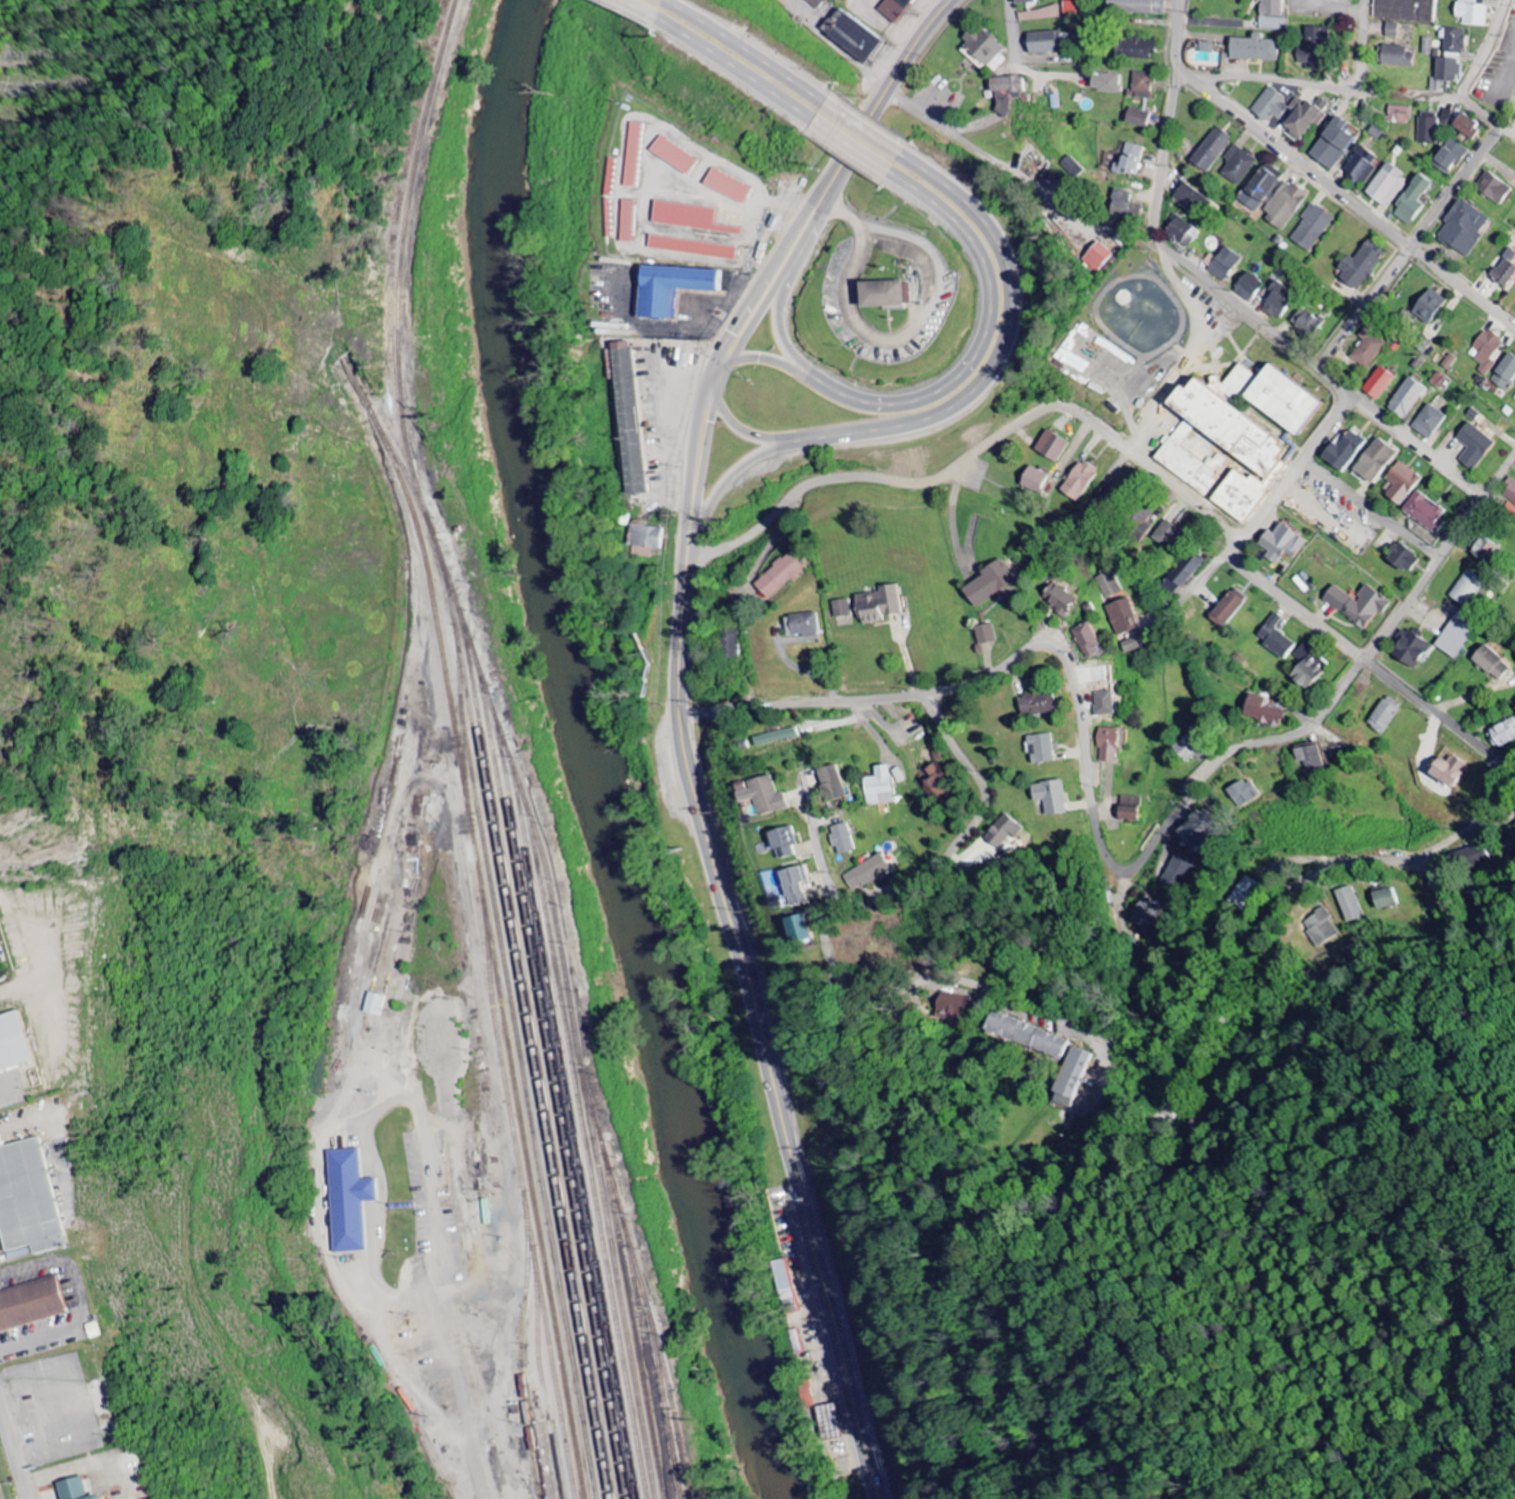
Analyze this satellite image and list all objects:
building: (1022, 1)
building: (815, 3)
building: (1136, 6)
road: (643, 8)
building: (894, 8)
building: (1406, 9)
building: (1472, 12)
building: (1042, 14)
building: (1271, 15)
building: (1391, 30)
building: (850, 35)
building: (1454, 41)
building: (1042, 42)
building: (1427, 46)
road: (749, 47)
building: (1204, 47)
building: (1312, 47)
building: (982, 48)
building: (1133, 48)
building: (1253, 48)
road: (1485, 50)
building: (1396, 56)
road: (1014, 64)
road: (738, 69)
building: (1444, 72)
road: (1205, 78)
building: (1104, 82)
building: (1006, 85)
building: (1140, 85)
road: (1336, 89)
building: (1270, 105)
building: (1399, 115)
road: (1487, 115)
building: (1304, 116)
building: (1137, 117)
building: (1466, 125)
road: (866, 128)
building: (1428, 128)
building: (1333, 143)
road: (855, 147)
building: (1211, 150)
building: (632, 155)
building: (673, 155)
building: (1450, 155)
building: (1129, 160)
building: (1238, 164)
building: (1363, 166)
road: (831, 180)
building: (1386, 185)
building: (727, 186)
building: (1259, 187)
building: (1492, 188)
building: (1190, 197)
road: (1348, 197)
building: (1412, 199)
building: (1284, 205)
building: (1124, 206)
building: (688, 217)
building: (627, 221)
road: (1156, 221)
building: (1463, 227)
building: (1311, 228)
building: (1181, 232)
road: (1410, 245)
building: (691, 247)
railway: (405, 257)
building: (1097, 257)
building: (1224, 263)
building: (1360, 264)
building: (1505, 269)
building: (1248, 286)
building: (670, 288)
building: (883, 293)
building: (1277, 300)
building: (1428, 306)
building: (1305, 322)
road: (778, 323)
road: (979, 343)
building: (1423, 344)
building: (1368, 348)
building: (1485, 351)
road: (1003, 353)
road: (764, 359)
building: (1449, 362)
building: (1506, 372)
building: (1437, 379)
road: (1337, 380)
building: (1379, 384)
building: (1407, 398)
building: (627, 418)
building: (1429, 421)
road: (742, 432)
building: (1235, 434)
road: (701, 440)
road: (1420, 443)
building: (1473, 445)
building: (1051, 447)
building: (1344, 451)
road: (975, 452)
building: (1374, 460)
road: (1297, 468)
road: (736, 473)
railway: (400, 476)
building: (1034, 479)
building: (1079, 481)
building: (1402, 483)
building: (1509, 490)
building: (1425, 512)
building: (1139, 521)
building: (644, 535)
building: (1167, 535)
building: (1280, 543)
building: (1401, 558)
building: (1182, 573)
building: (779, 577)
building: (988, 584)
building: (1108, 585)
building: (1467, 589)
building: (1060, 600)
building: (877, 604)
building: (1357, 604)
building: (841, 608)
building: (1227, 608)
building: (1124, 617)
building: (985, 634)
building: (1456, 635)
building: (1275, 637)
building: (1086, 640)
building: (731, 644)
building: (1130, 646)
building: (1409, 648)
road: (1365, 657)
building: (1490, 663)
building: (1307, 667)
building: (1104, 703)
building: (1036, 704)
building: (1263, 711)
building: (1384, 715)
railway: (451, 728)
building: (1503, 734)
building: (775, 737)
building: (1107, 745)
building: (1040, 749)
building: (1187, 750)
river: (588, 757)
building: (1310, 758)
building: (1446, 770)
building: (831, 783)
building: (881, 787)
building: (939, 787)
building: (1244, 793)
building: (763, 795)
building: (1049, 797)
building: (1127, 809)
building: (1195, 829)
building: (1001, 833)
building: (842, 839)
building: (1513, 839)
building: (783, 842)
road: (820, 850)
building: (1475, 857)
road: (1107, 858)
building: (1179, 865)
building: (865, 873)
building: (794, 885)
building: (1247, 891)
building: (1383, 899)
building: (1349, 904)
building: (1146, 913)
building: (1320, 928)
building: (797, 929)
road: (829, 955)
building: (373, 1005)
building: (955, 1007)
railway: (507, 1008)
road: (754, 1009)
railway: (568, 1015)
building: (1028, 1036)
building: (13, 1040)
building: (1069, 1078)
road: (1160, 1115)
building: (29, 1196)
railway: (521, 1199)
building: (347, 1201)
building: (786, 1287)
building: (35, 1305)
railway: (521, 1350)
road: (460, 1374)
building: (805, 1395)
building: (828, 1423)
road: (10, 1461)
building: (81, 1490)
building: (116, 1498)

